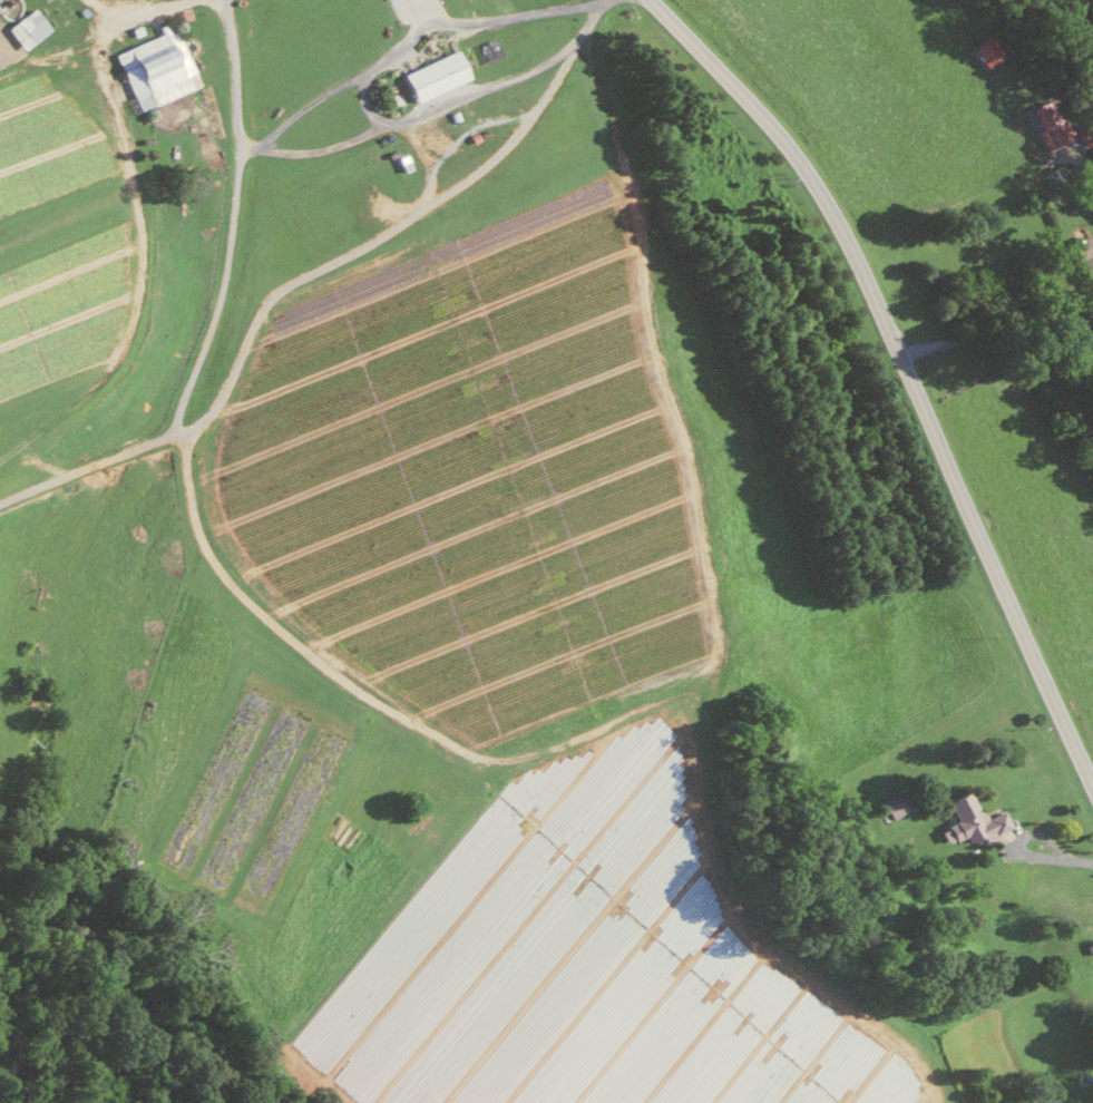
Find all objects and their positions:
road: (597, 2)
building: (26, 28)
building: (155, 67)
building: (432, 76)
road: (361, 100)
building: (1048, 125)
building: (1083, 258)
road: (992, 325)
road: (900, 371)
building: (894, 803)
building: (970, 819)
road: (1014, 840)
road: (1081, 859)

